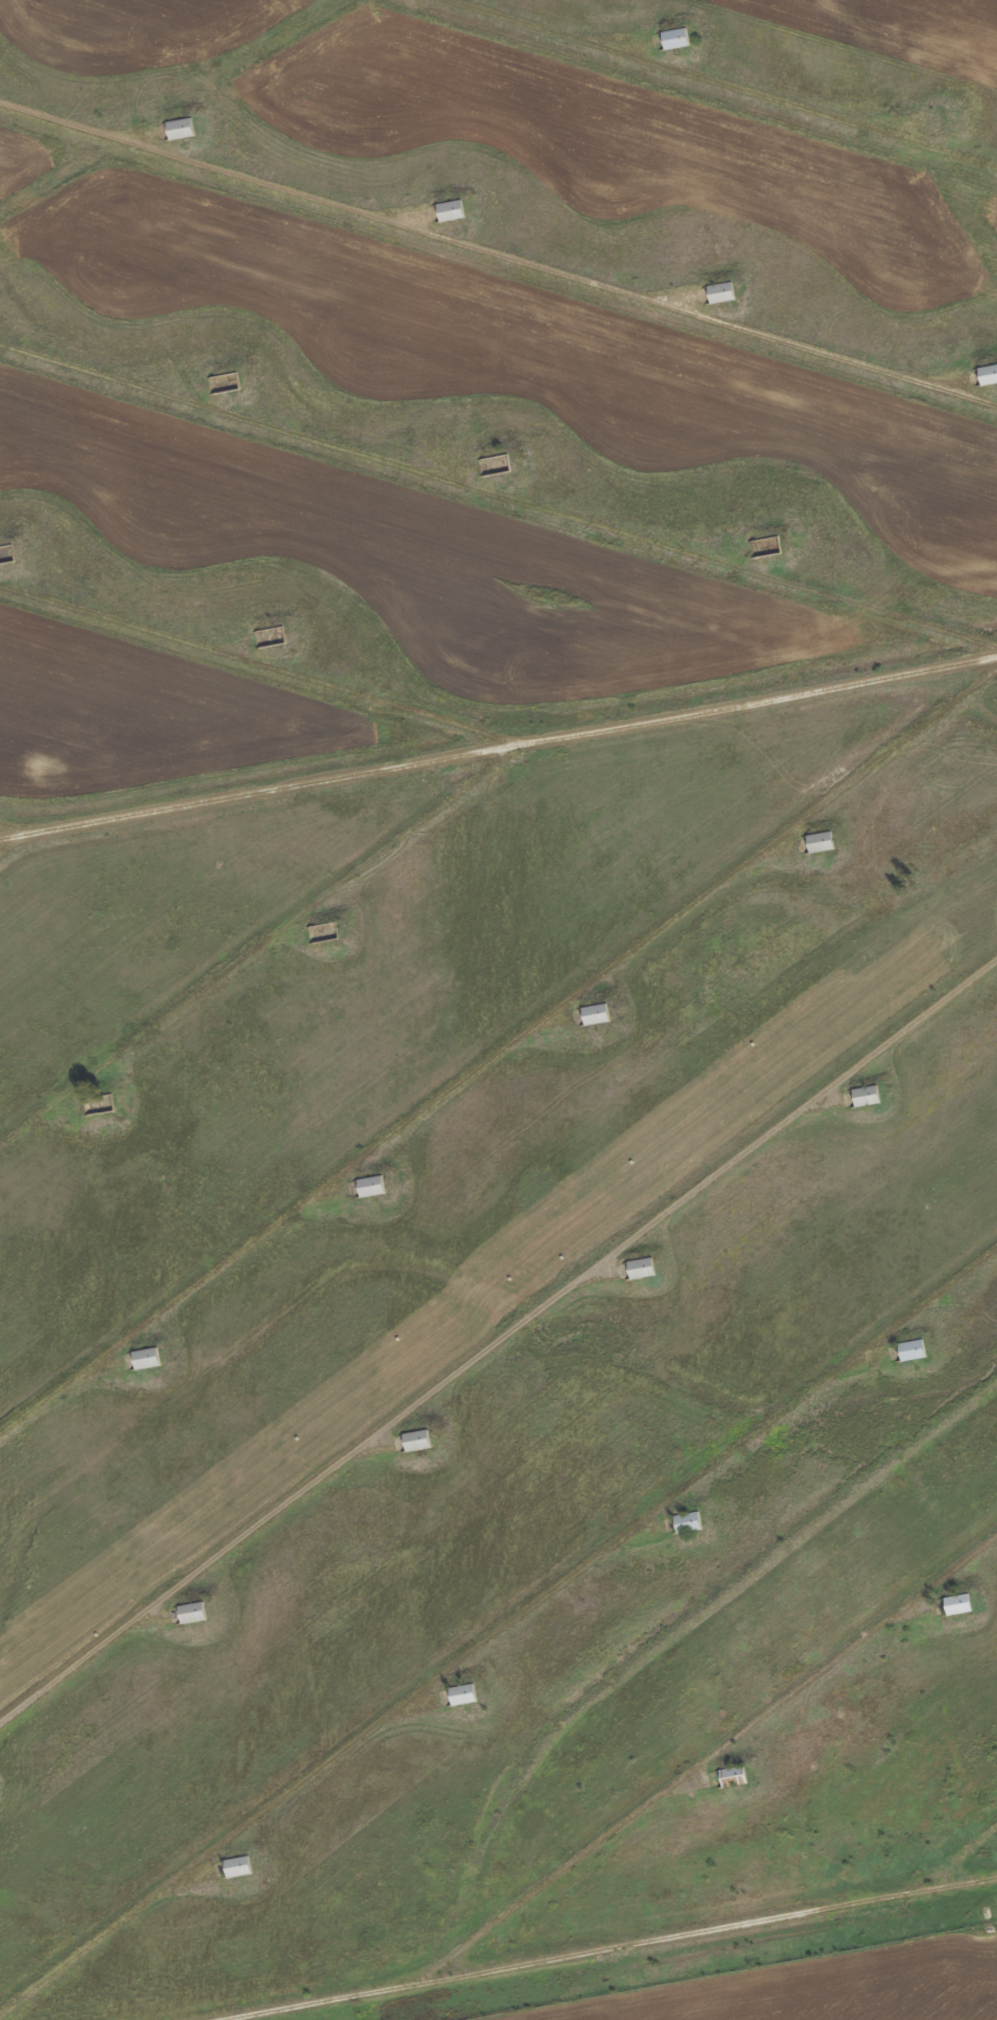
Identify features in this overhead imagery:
building: (675, 37)
road: (721, 81)
building: (180, 127)
building: (450, 209)
road: (498, 254)
building: (721, 291)
building: (988, 373)
building: (223, 382)
road: (498, 498)
building: (6, 555)
building: (269, 636)
road: (262, 668)
road: (261, 793)
road: (452, 797)
road: (23, 837)
building: (820, 841)
road: (23, 851)
building: (595, 1013)
road: (497, 1053)
building: (866, 1095)
building: (371, 1185)
building: (641, 1267)
road: (497, 1340)
building: (912, 1349)
building: (146, 1357)
building: (417, 1439)
building: (687, 1521)
building: (957, 1603)
building: (192, 1611)
road: (497, 1631)
building: (462, 1693)
road: (715, 1756)
building: (733, 1775)
road: (965, 1858)
building: (237, 1866)
road: (601, 1944)

